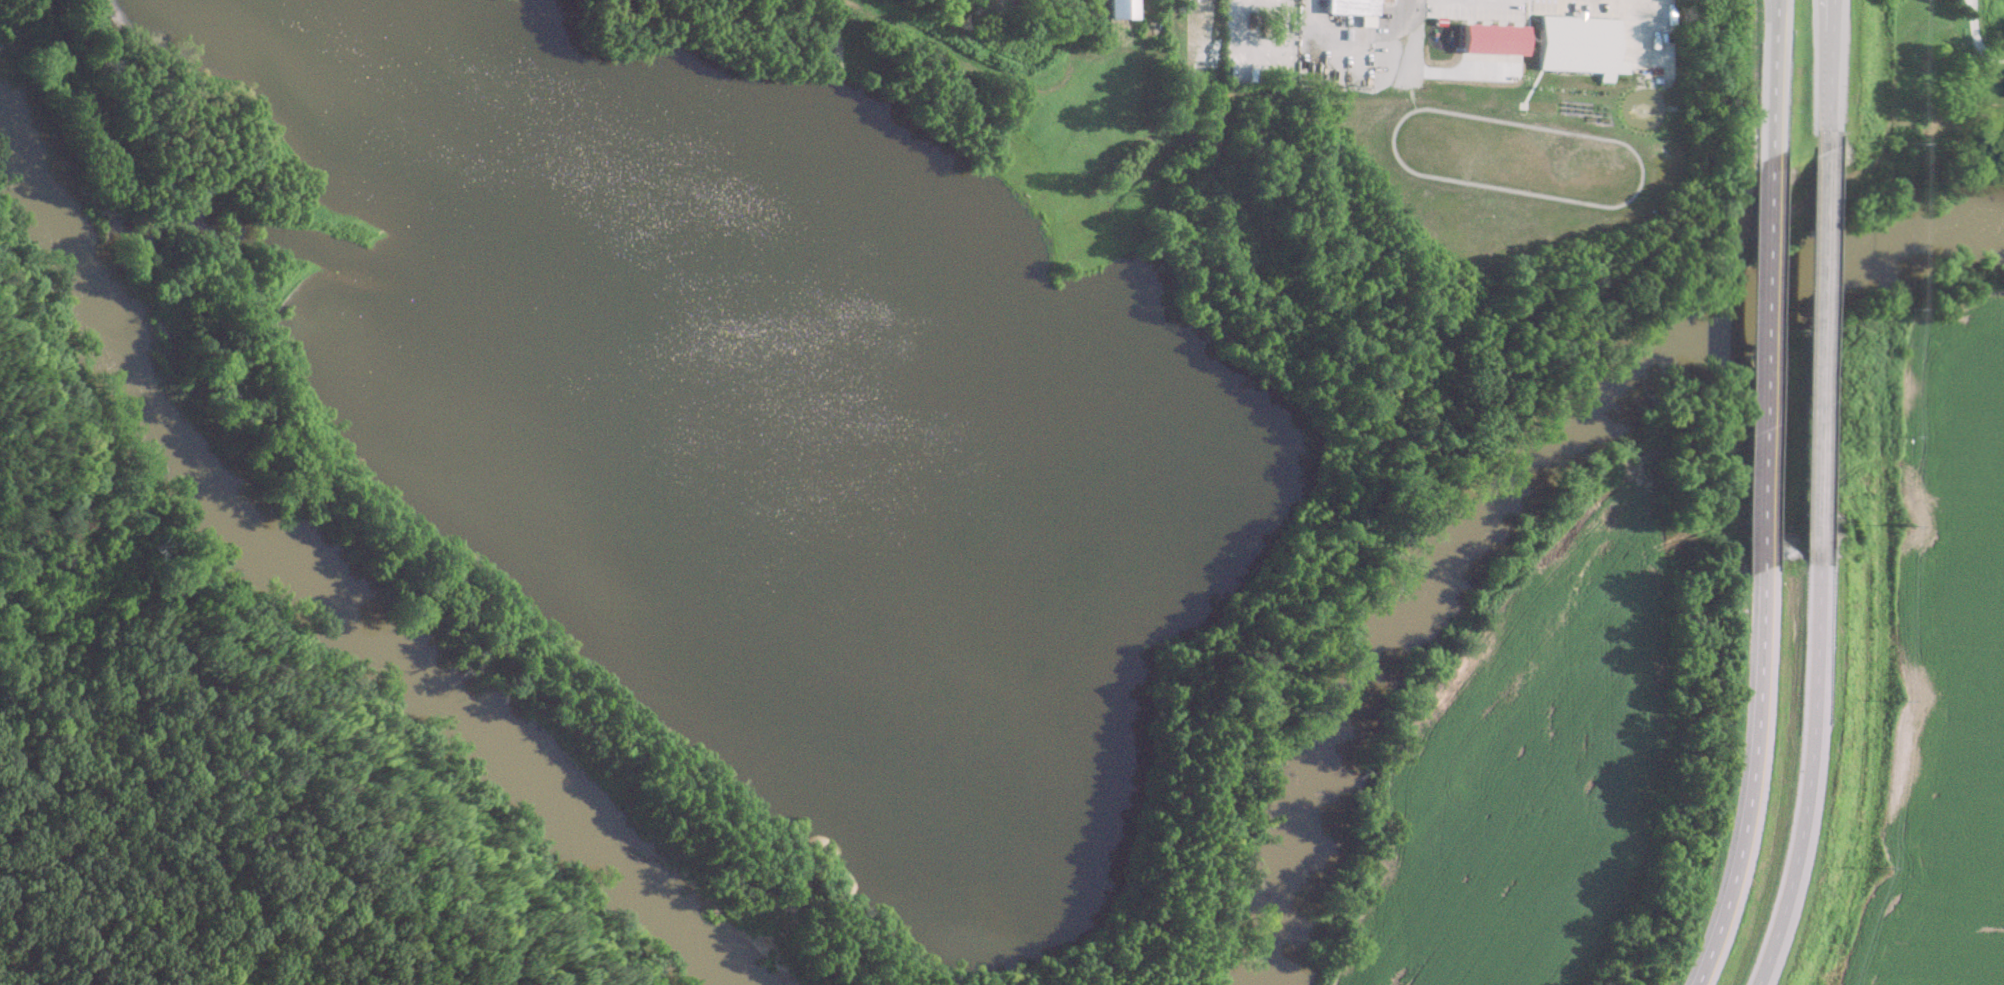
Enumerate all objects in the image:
building: (1348, 7)
building: (1119, 10)
building: (1487, 36)
building: (1573, 39)
road: (1975, 41)
road: (1408, 42)
road: (1826, 74)
road: (1771, 86)
road: (1818, 347)
road: (1763, 369)
river: (1512, 487)
river: (321, 588)
crop: (1946, 678)
road: (1802, 768)
road: (1745, 779)

